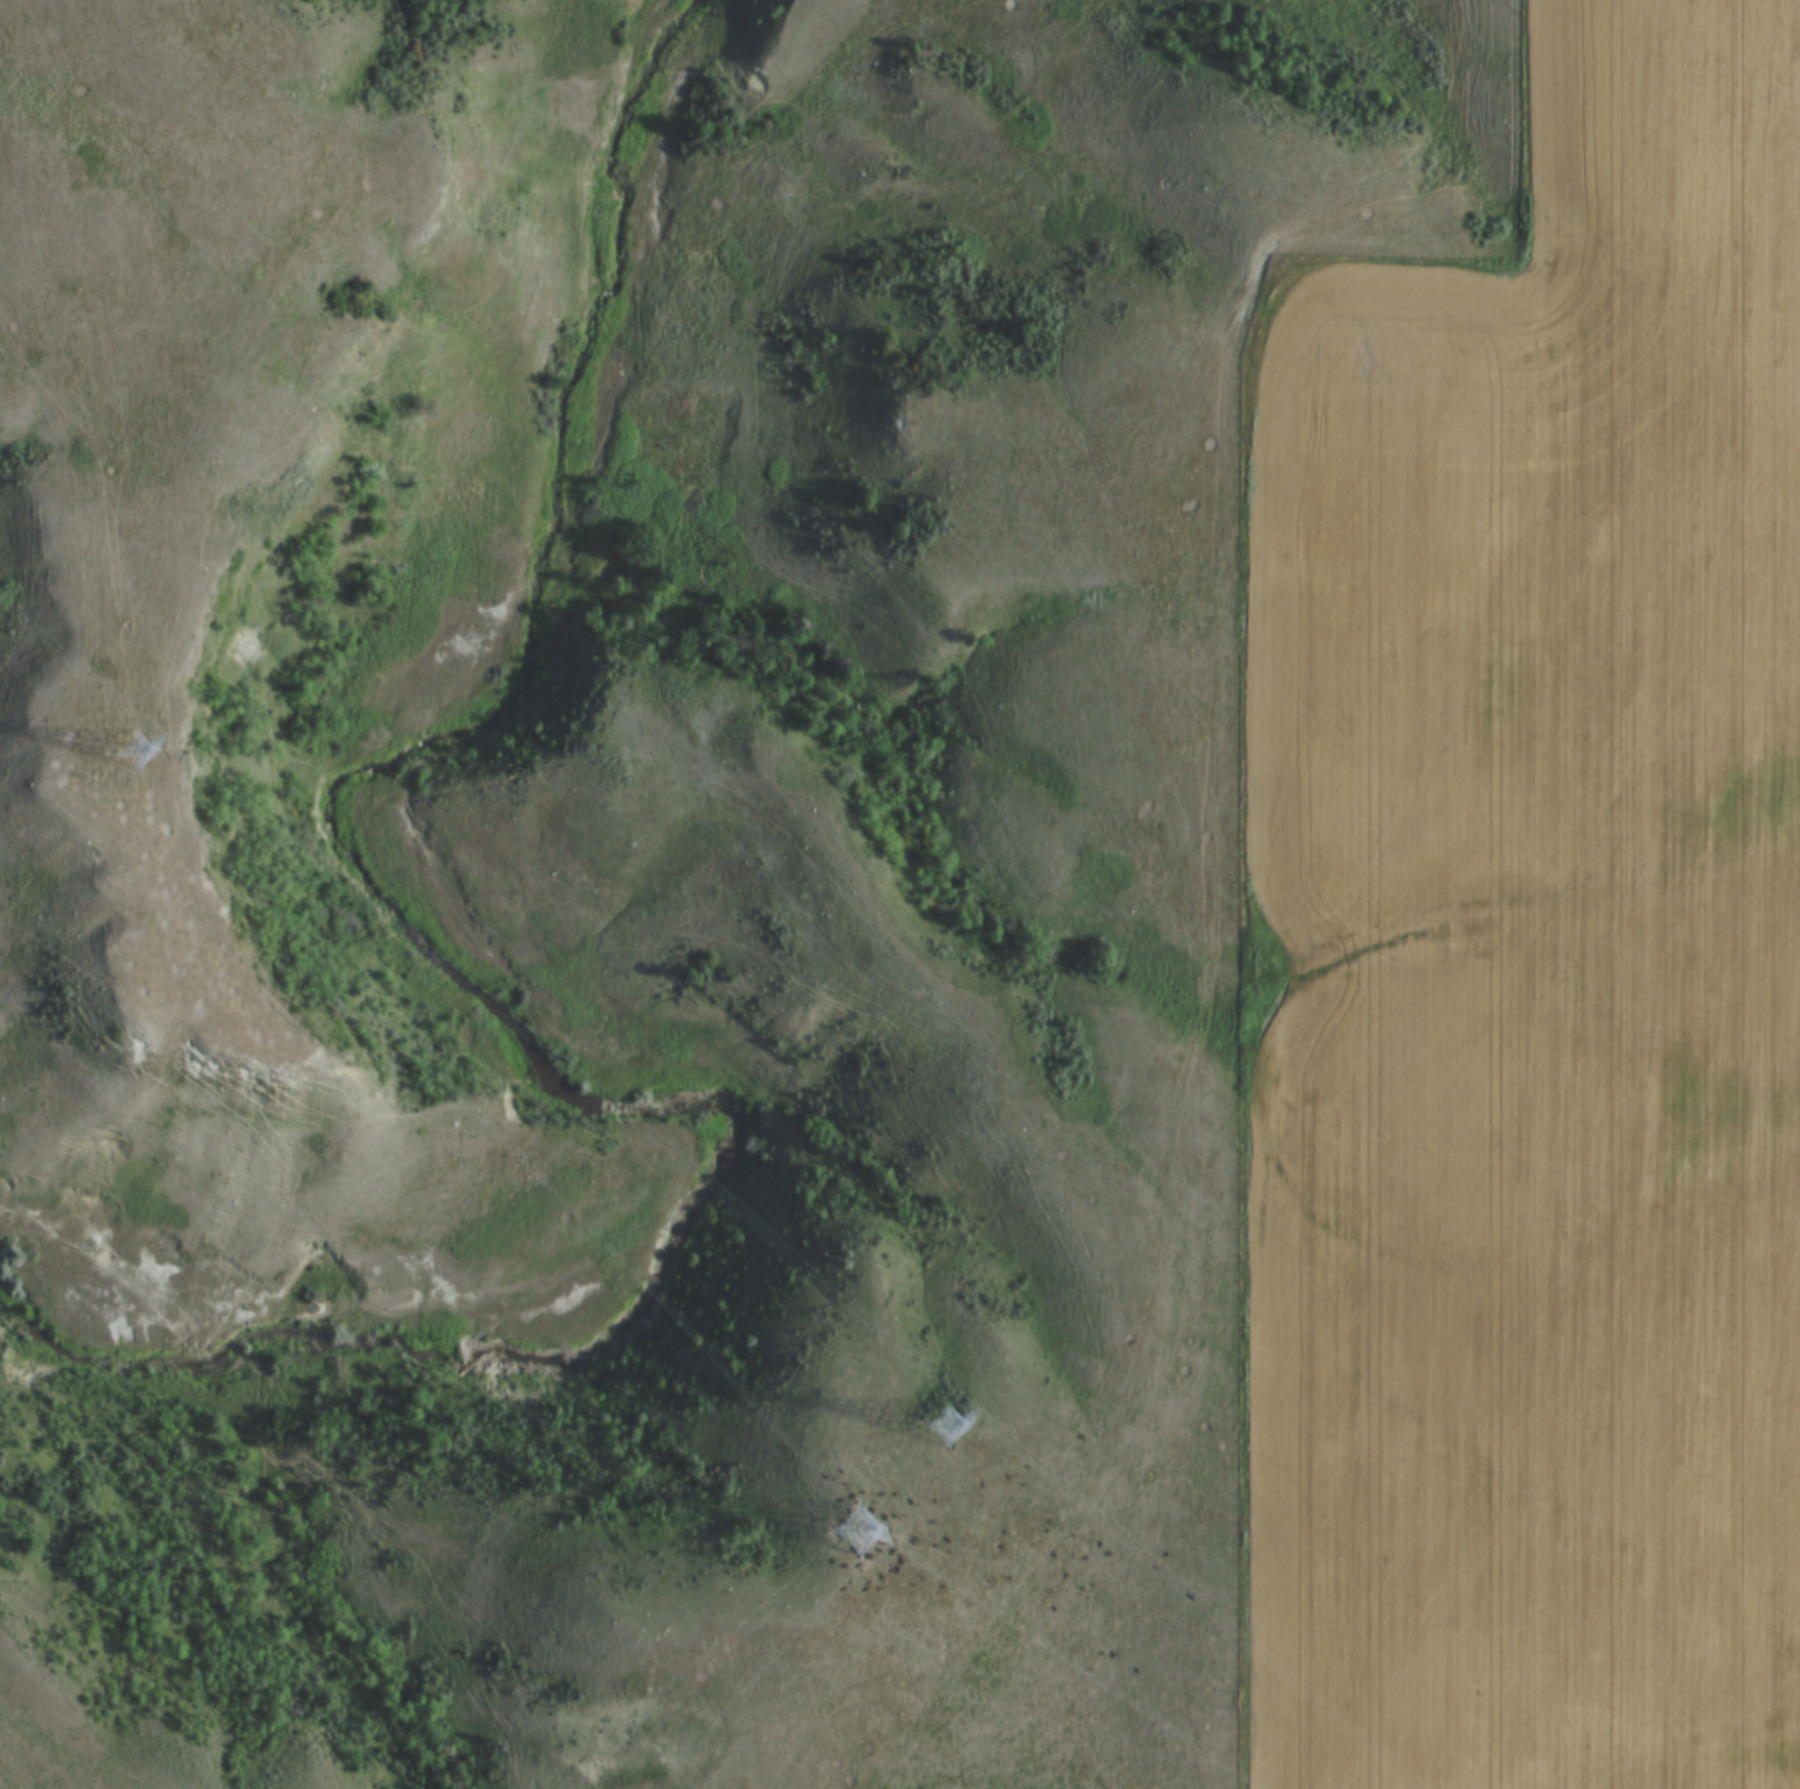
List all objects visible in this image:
power tower: (117, 758)
power tower: (937, 1426)
power tower: (846, 1530)

